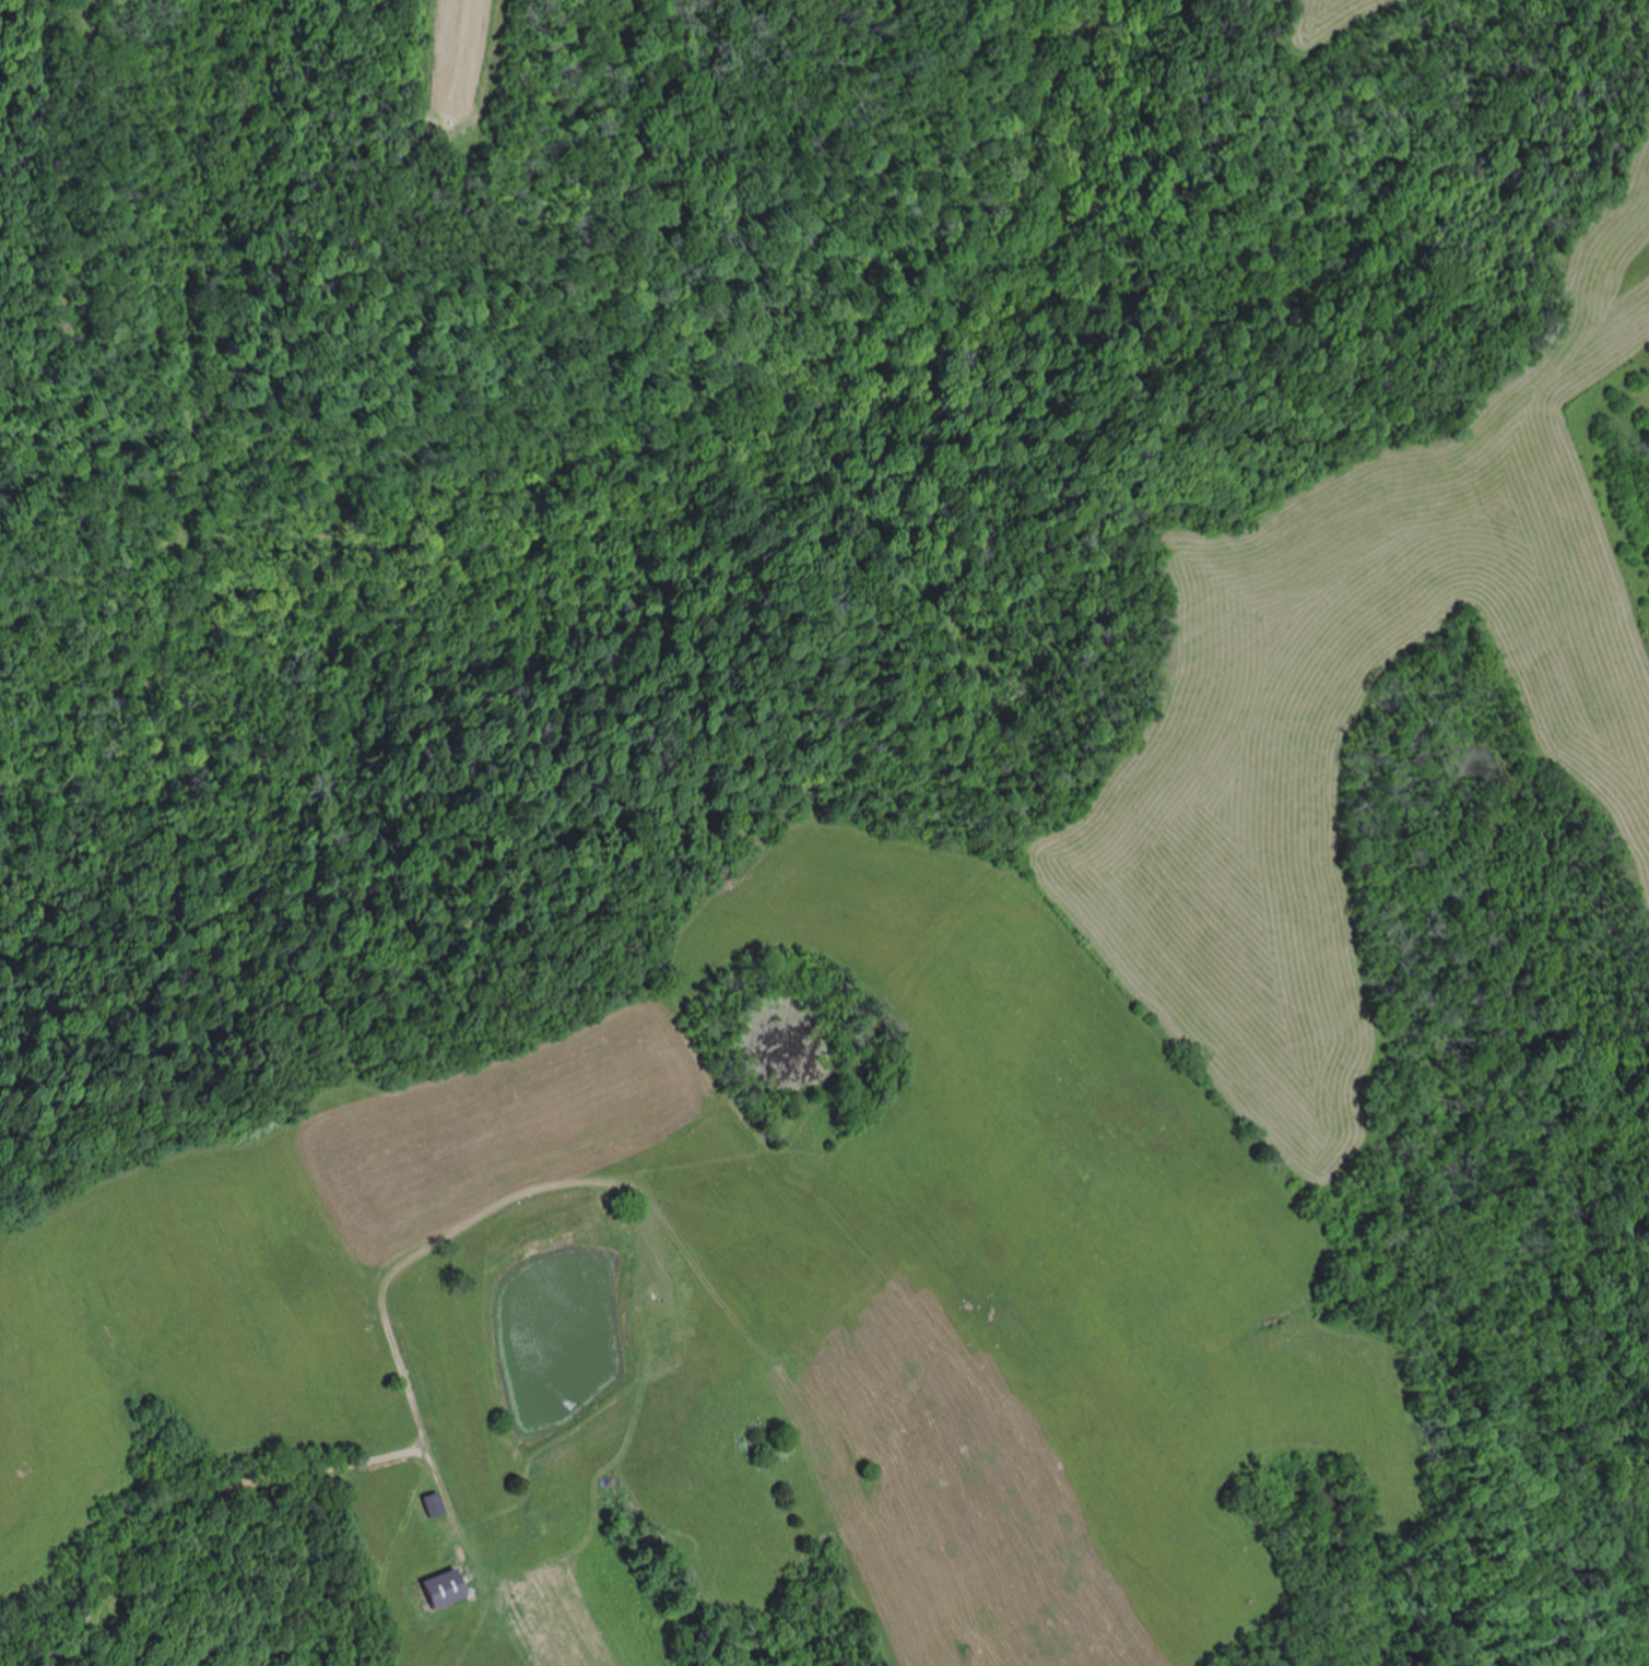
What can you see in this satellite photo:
road: (404, 1181)
building: (440, 1504)
building: (455, 1588)
building: (478, 1639)

